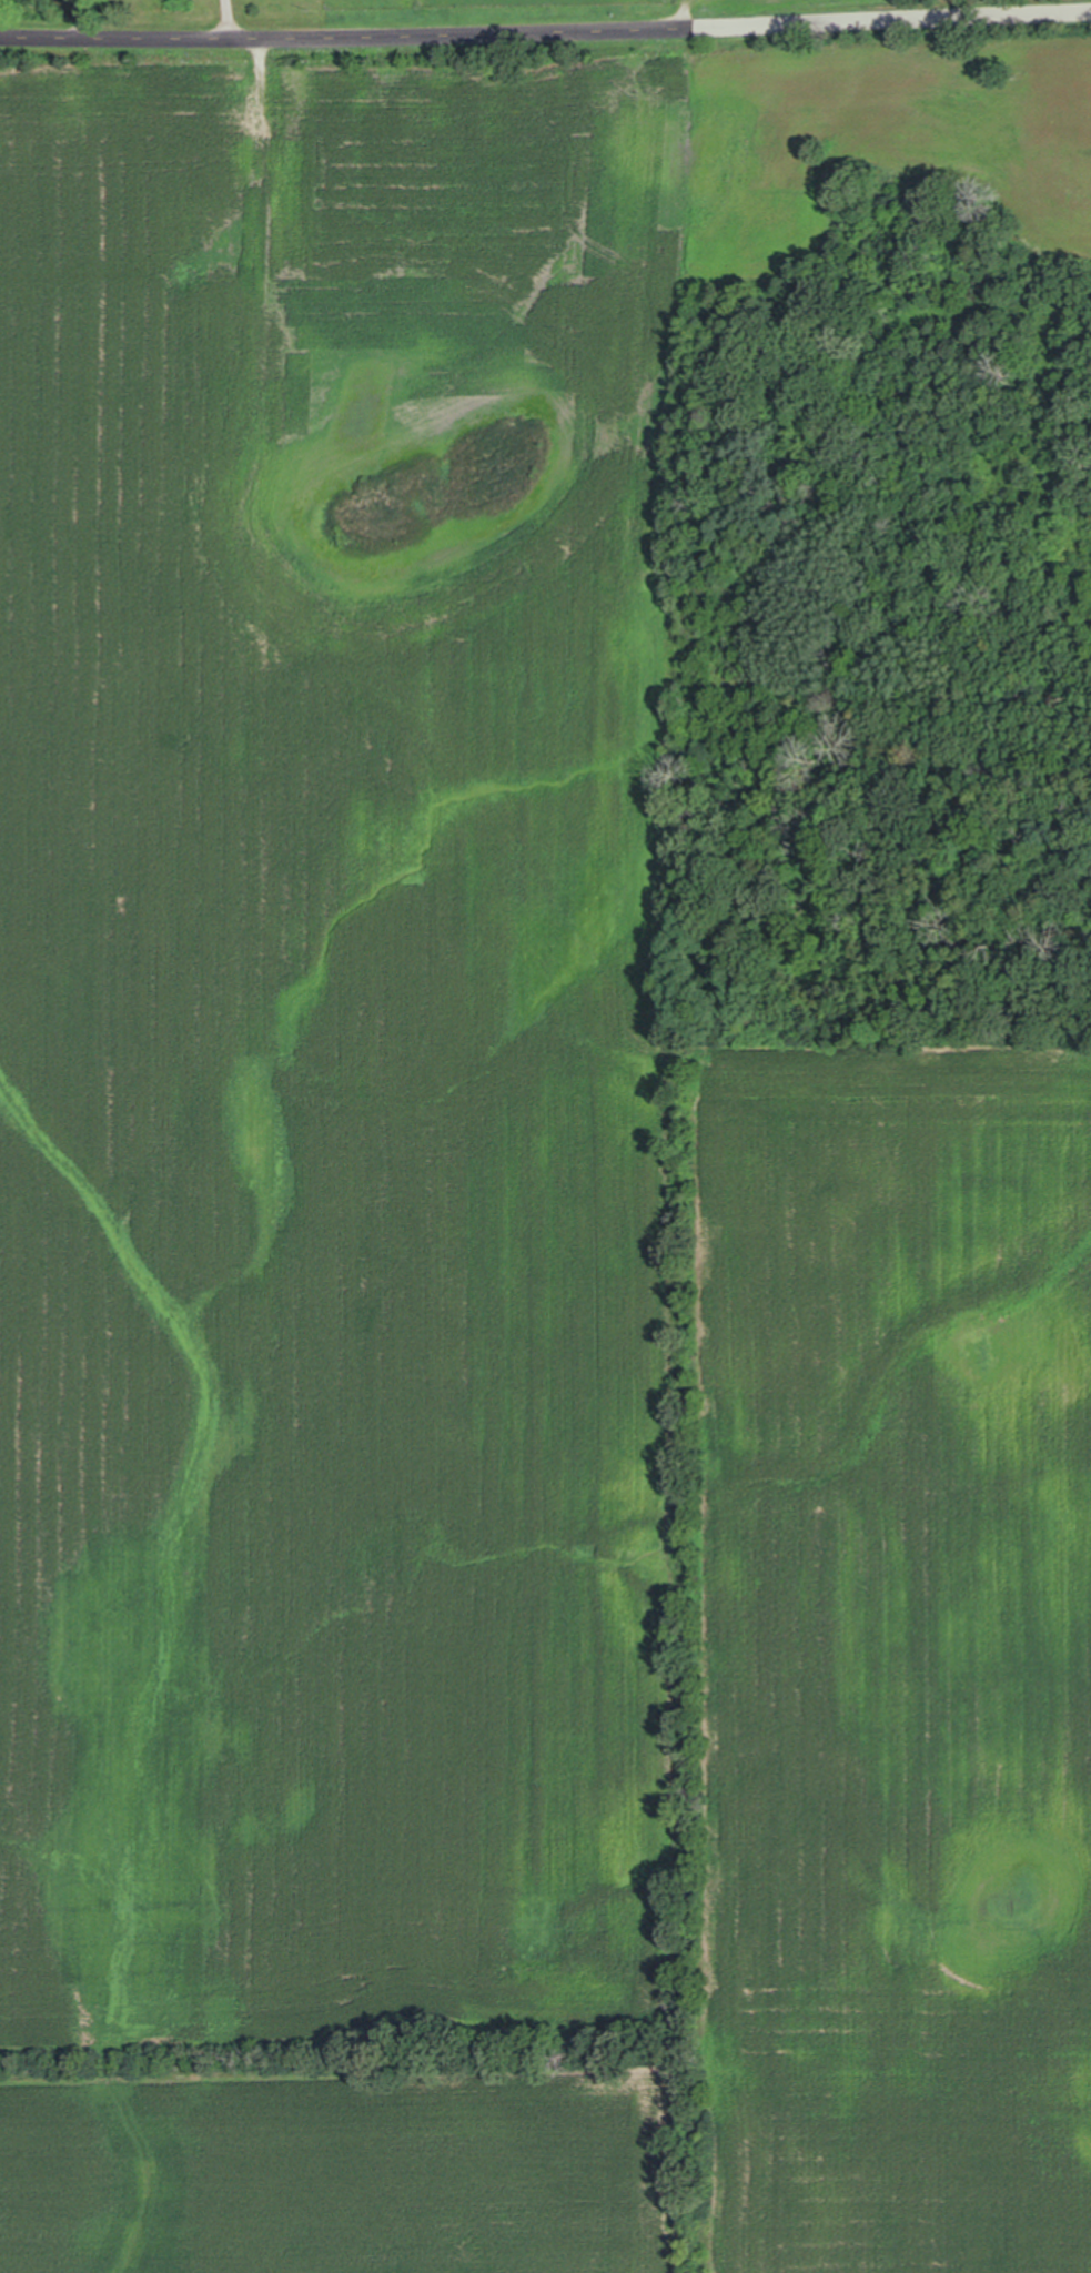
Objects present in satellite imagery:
road: (83, 22)
road: (224, 22)
road: (545, 36)

